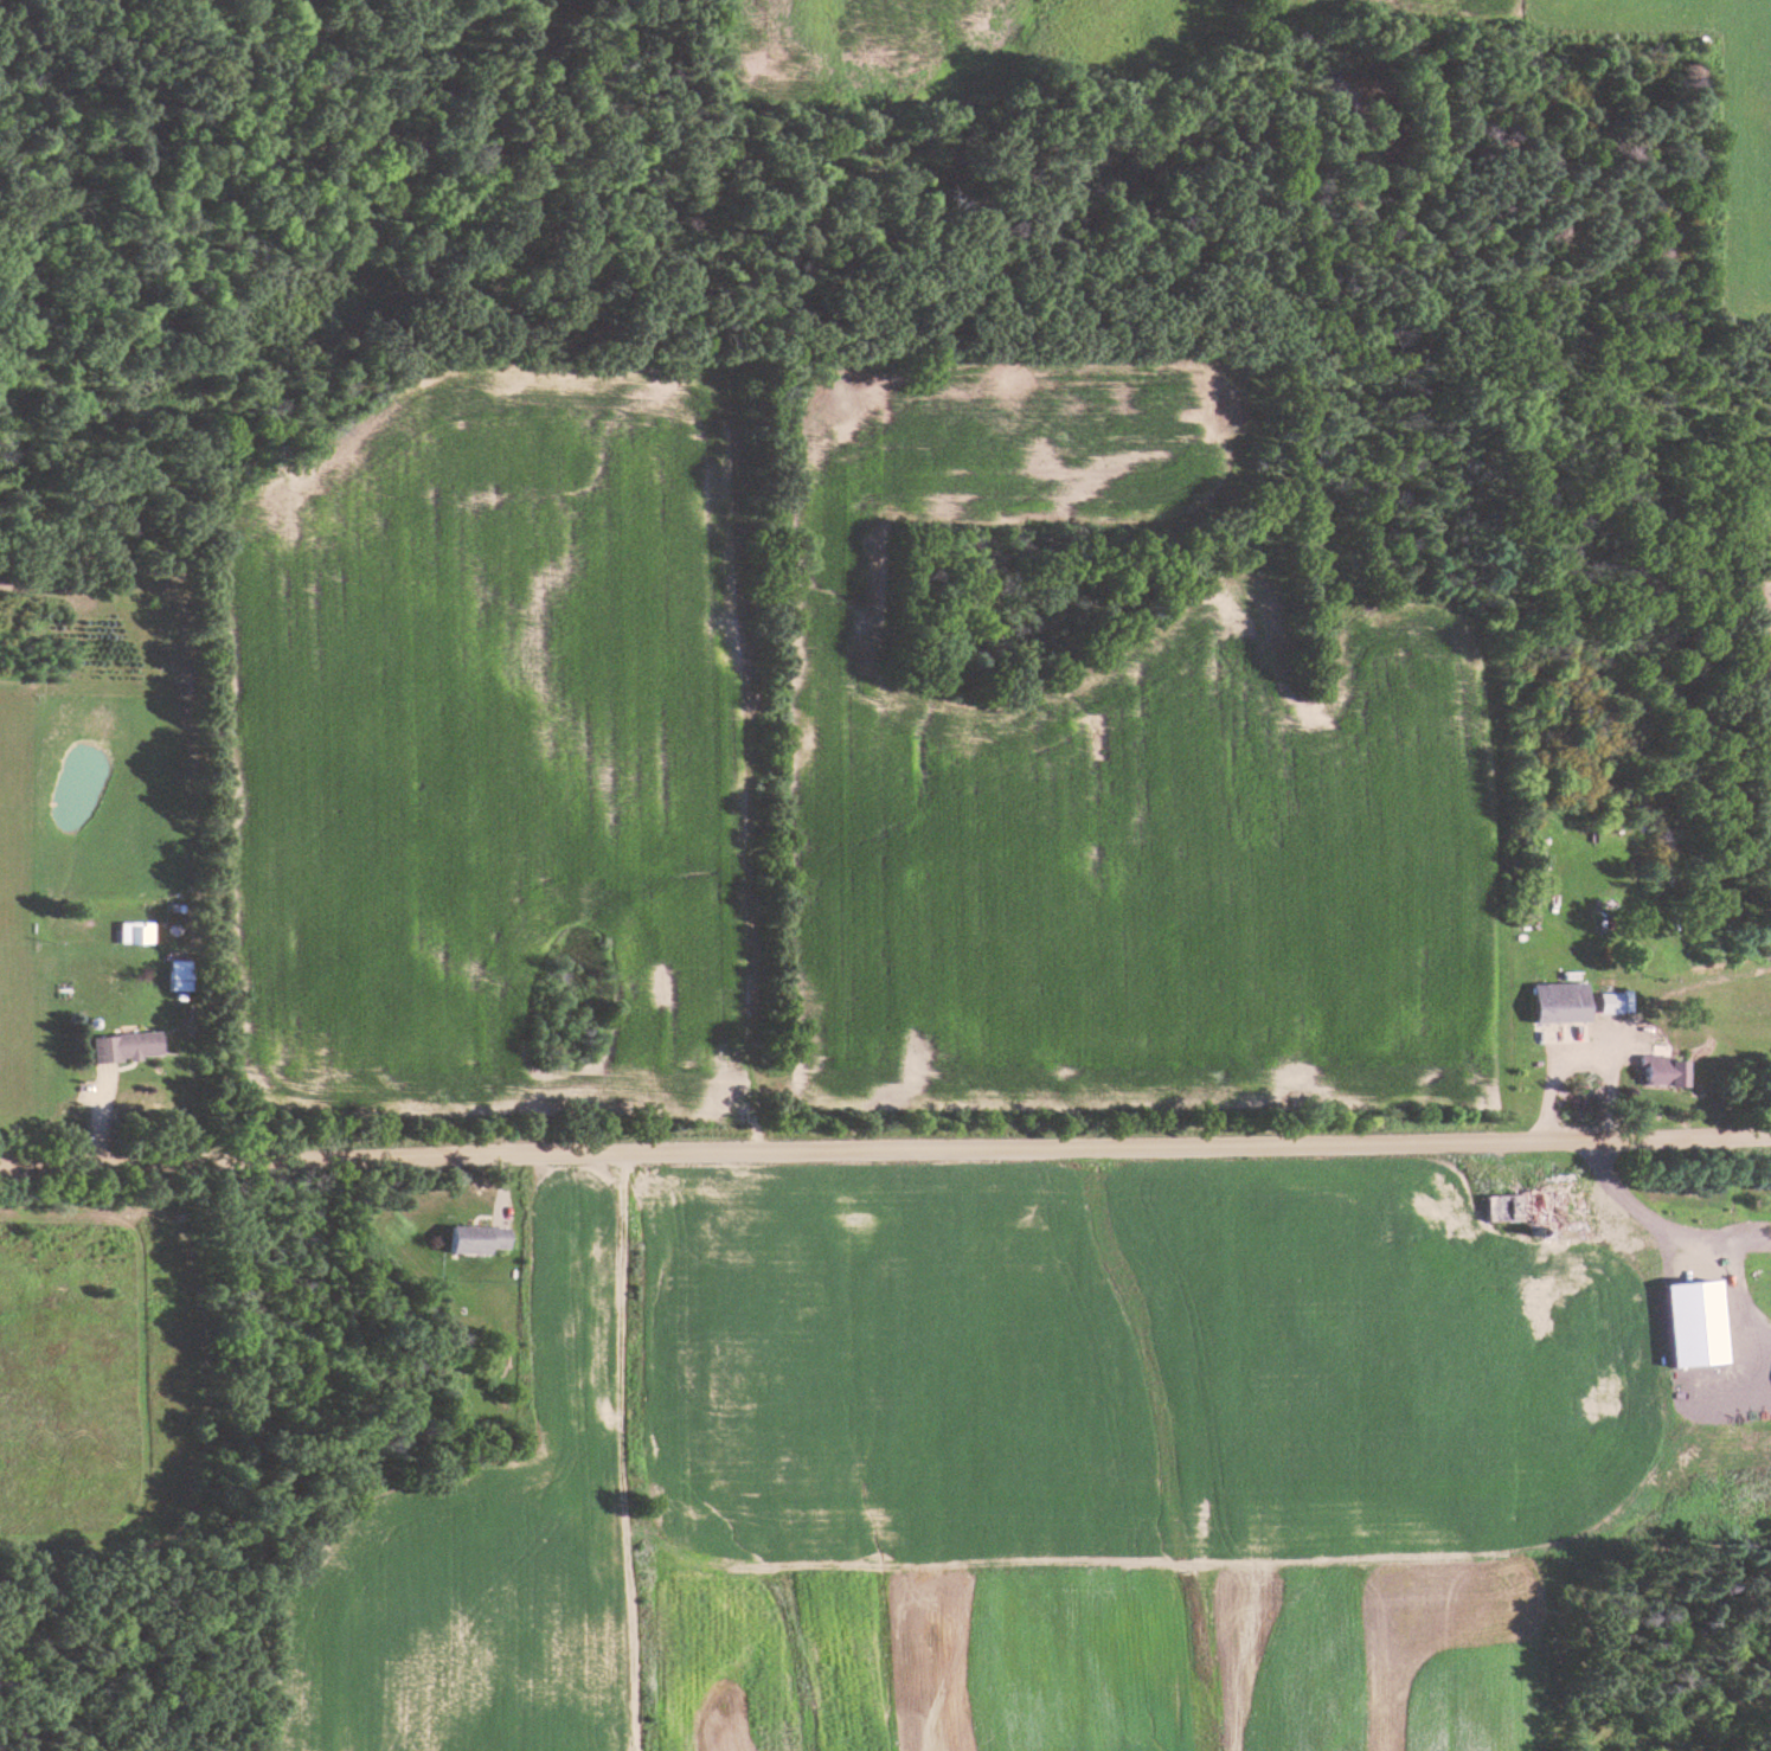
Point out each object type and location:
building: (169, 828)
building: (1541, 845)
building: (1565, 1002)
building: (1616, 1003)
building: (126, 1046)
road: (1580, 1059)
building: (1669, 1071)
road: (885, 1149)
building: (1532, 1208)
road: (1689, 1236)
building: (479, 1240)
building: (1590, 1261)

